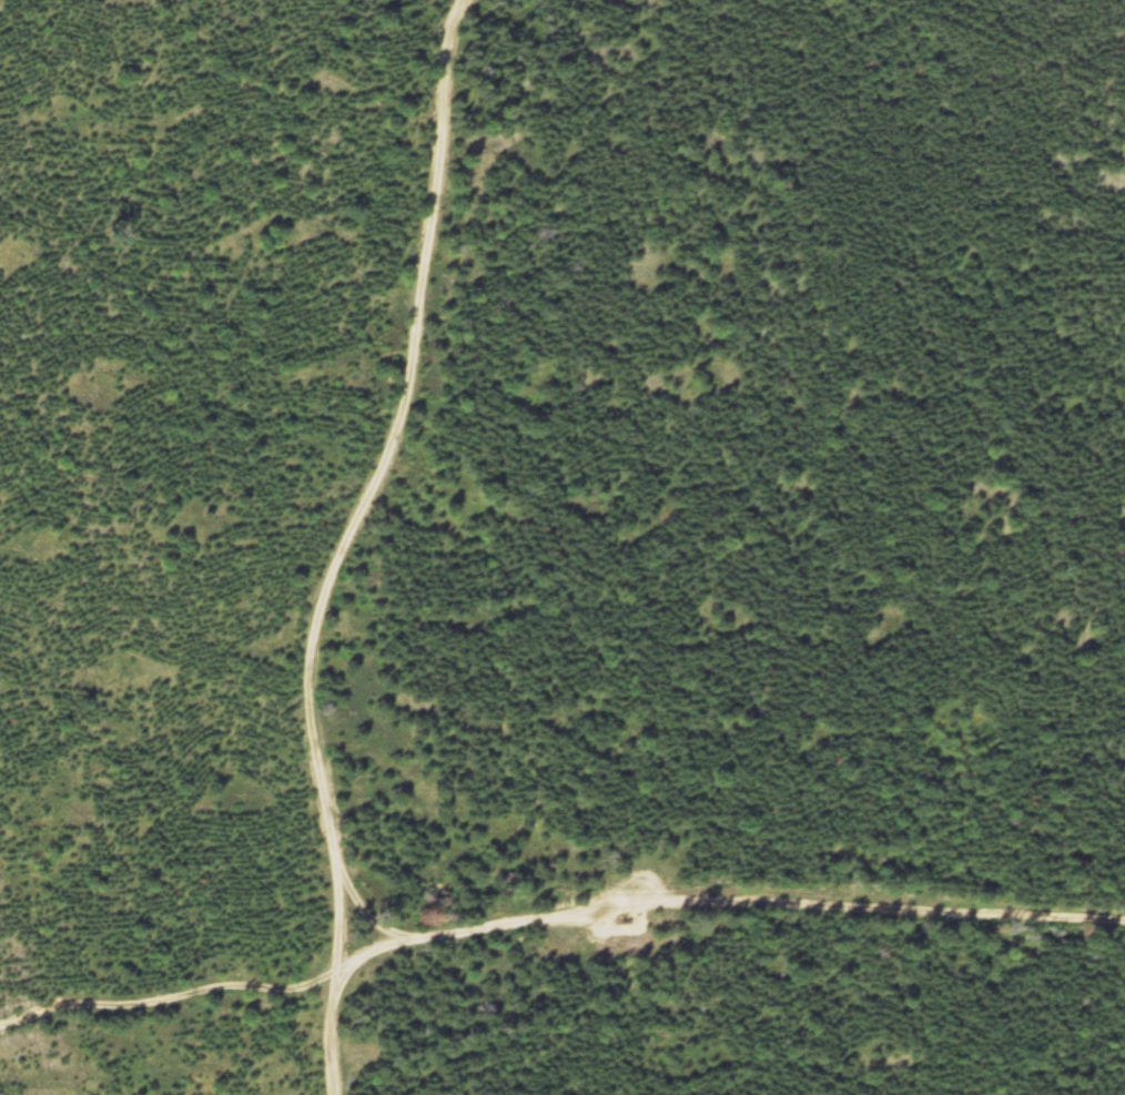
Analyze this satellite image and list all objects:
road: (1003, 42)
road: (351, 541)
road: (555, 910)
petroleum well: (625, 919)

